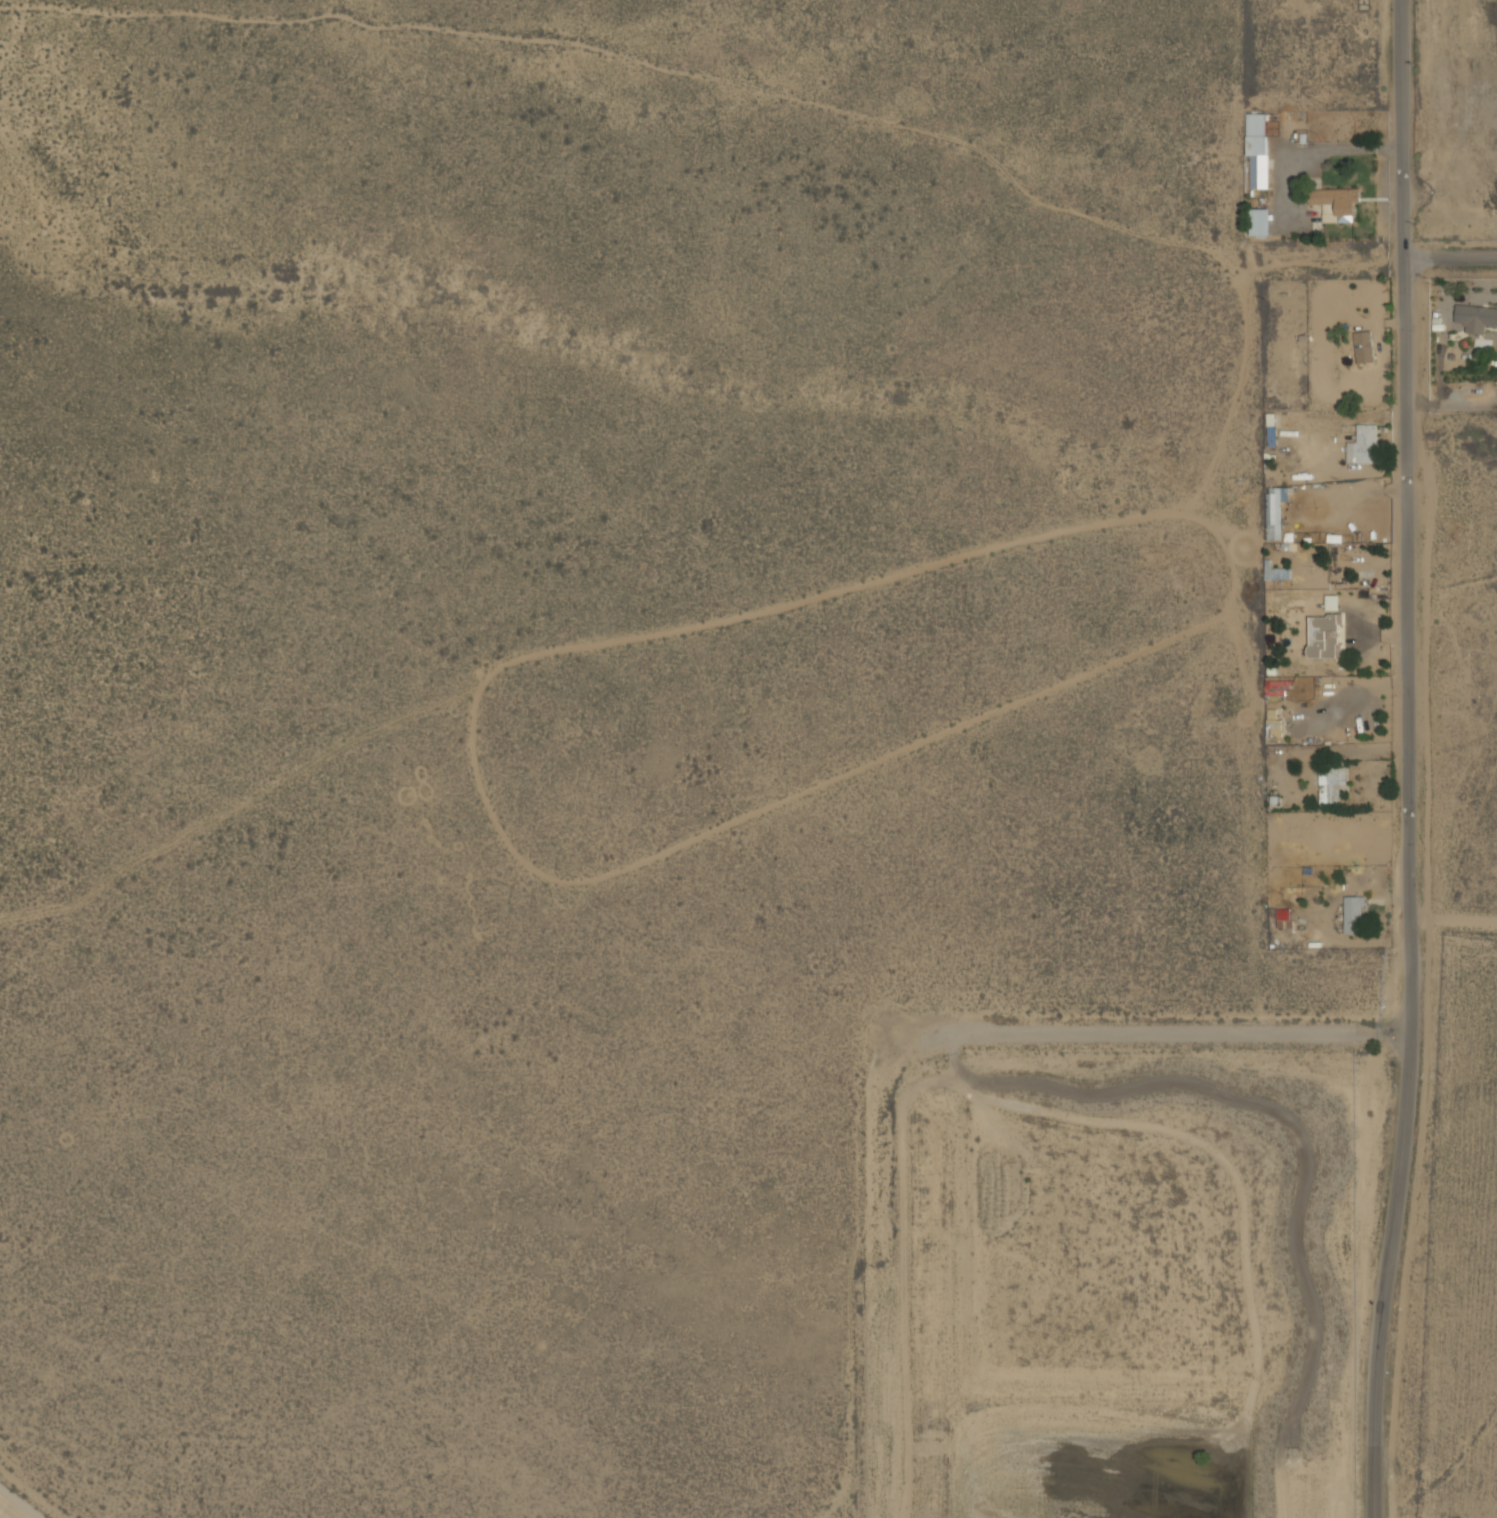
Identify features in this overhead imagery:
road: (1393, 12)
building: (1257, 149)
building: (1336, 203)
building: (1259, 221)
road: (1451, 253)
road: (1405, 305)
building: (1475, 317)
building: (1363, 346)
road: (1451, 402)
building: (1362, 445)
building: (1277, 494)
building: (1331, 602)
building: (1331, 783)
building: (1352, 914)
road: (1393, 1034)
road: (1410, 1053)
dam: (1302, 1161)

